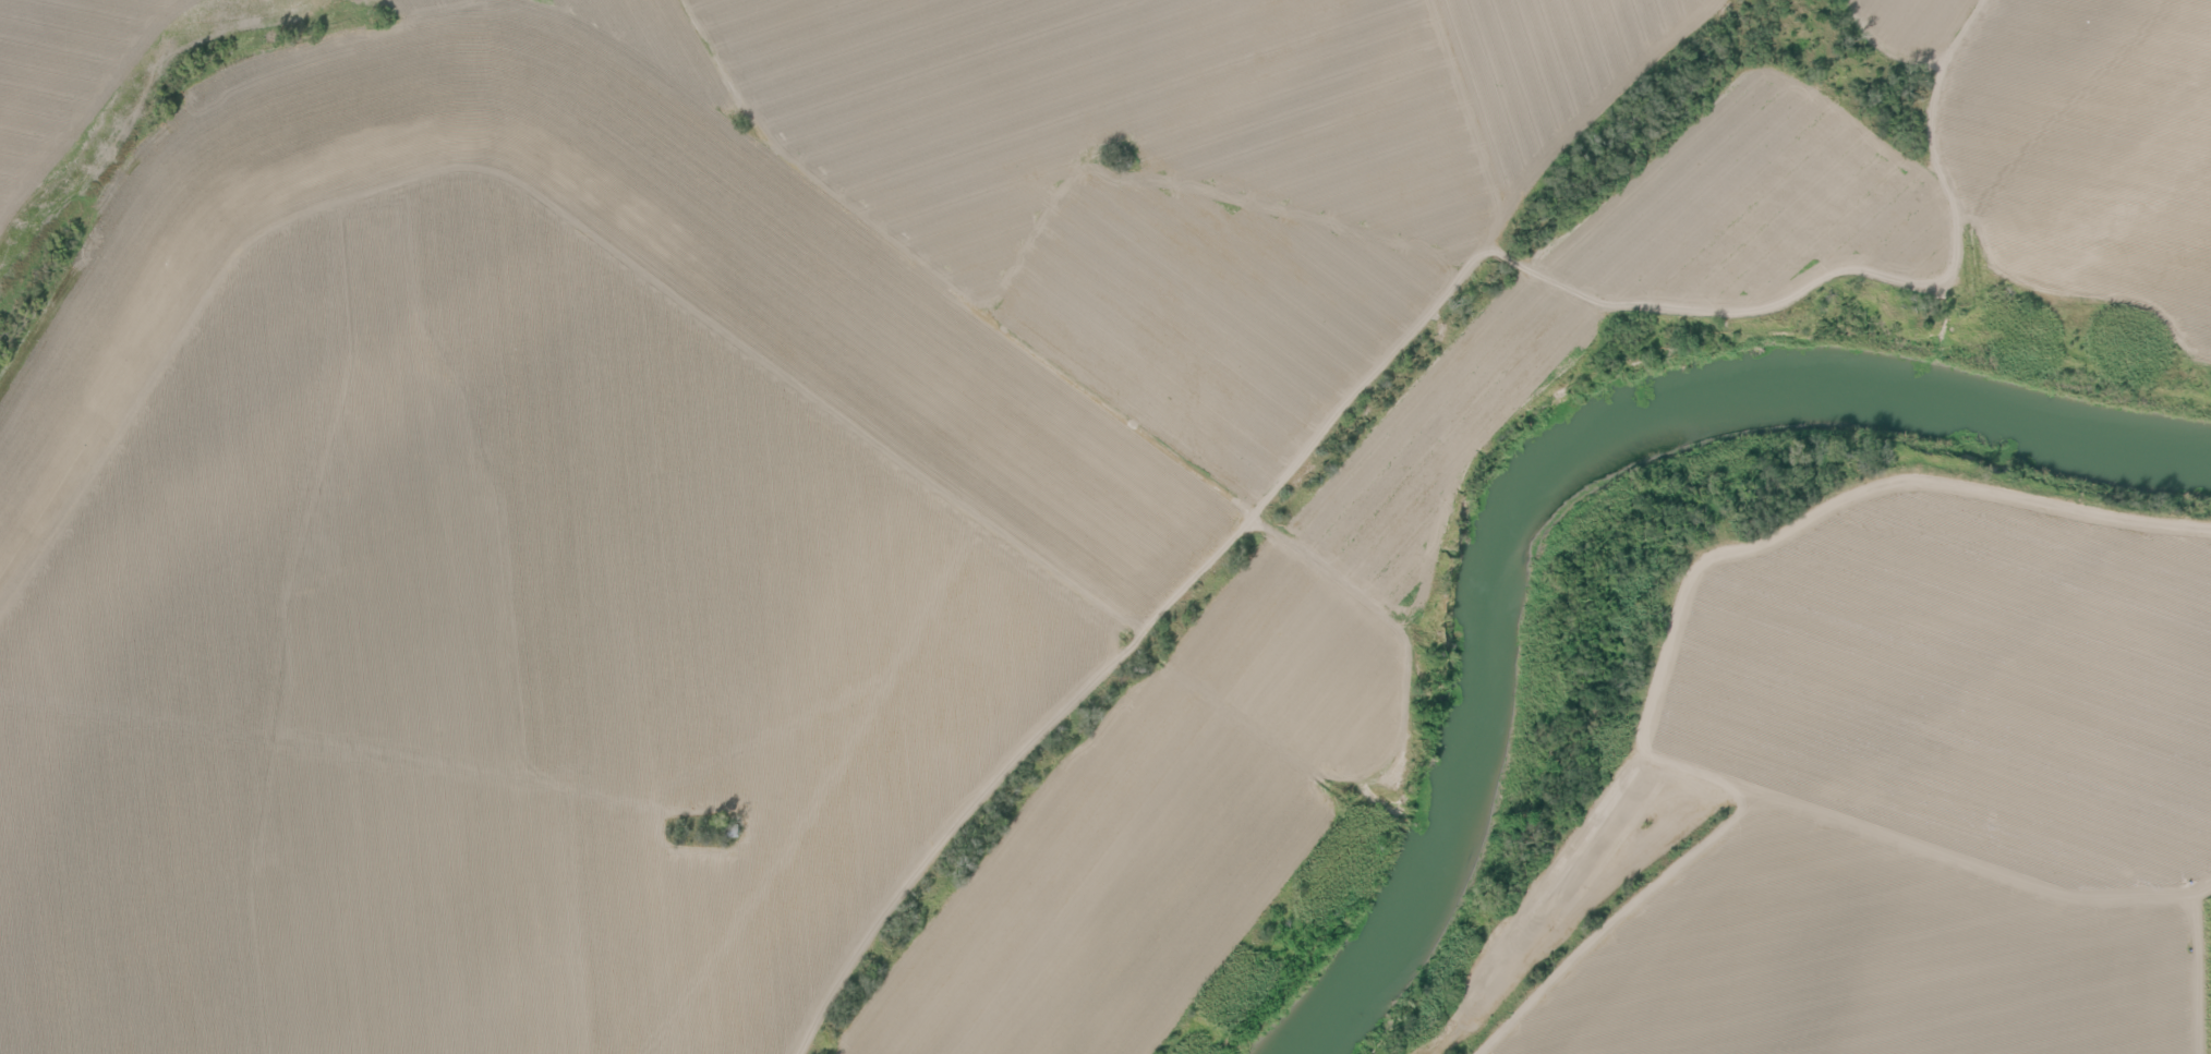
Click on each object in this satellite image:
river: (1570, 468)
road: (1789, 525)
road: (1967, 873)
road: (1609, 926)
road: (2192, 960)

